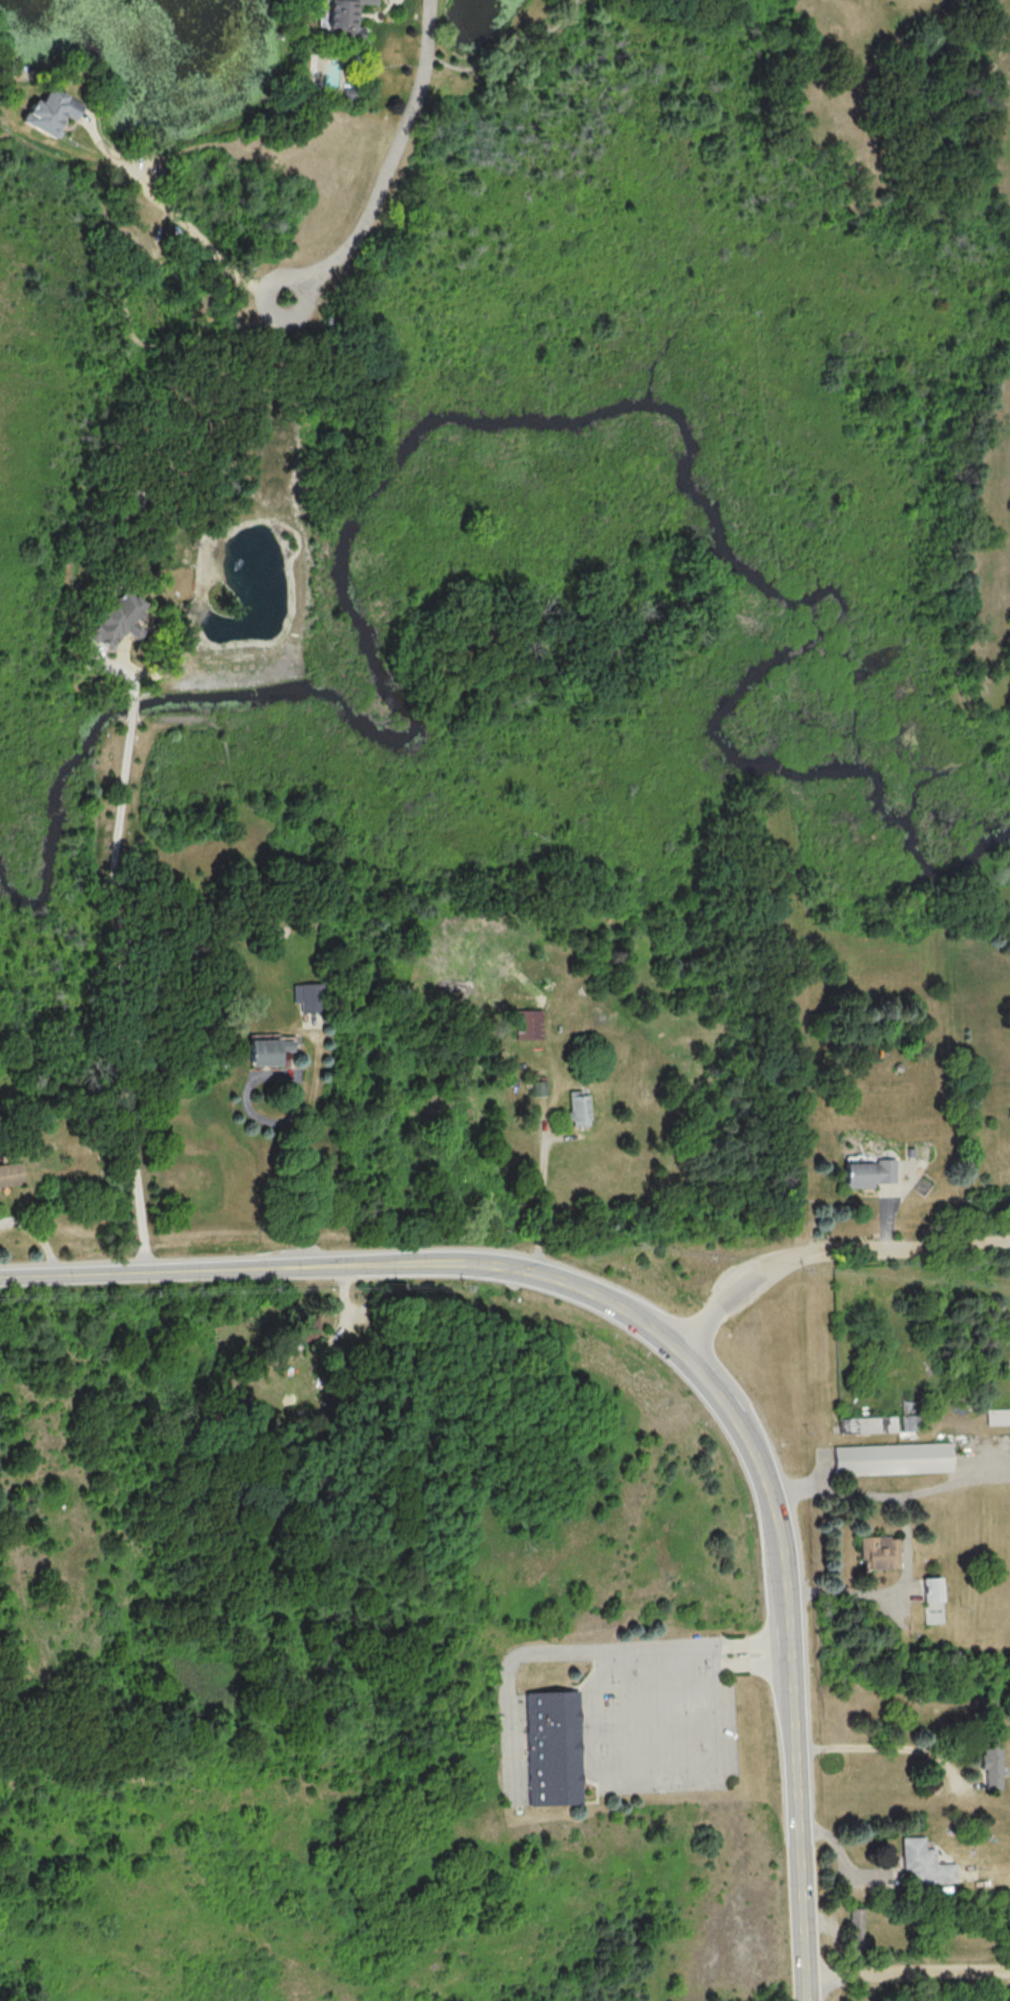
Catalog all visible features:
building: (345, 18)
building: (51, 107)
road: (388, 166)
road: (183, 222)
building: (116, 619)
road: (117, 671)
road: (132, 706)
road: (121, 996)
building: (308, 997)
building: (529, 1024)
building: (267, 1051)
building: (540, 1088)
building: (579, 1108)
road: (293, 1111)
building: (910, 1152)
building: (11, 1173)
building: (869, 1173)
road: (543, 1191)
road: (890, 1248)
road: (725, 1304)
building: (306, 1326)
road: (674, 1341)
building: (998, 1416)
building: (869, 1424)
building: (894, 1458)
road: (876, 1494)
building: (879, 1552)
building: (933, 1600)
road: (506, 1678)
road: (593, 1739)
building: (553, 1747)
road: (876, 1747)
building: (992, 1765)
building: (925, 1862)
building: (857, 1930)
road: (906, 1974)

